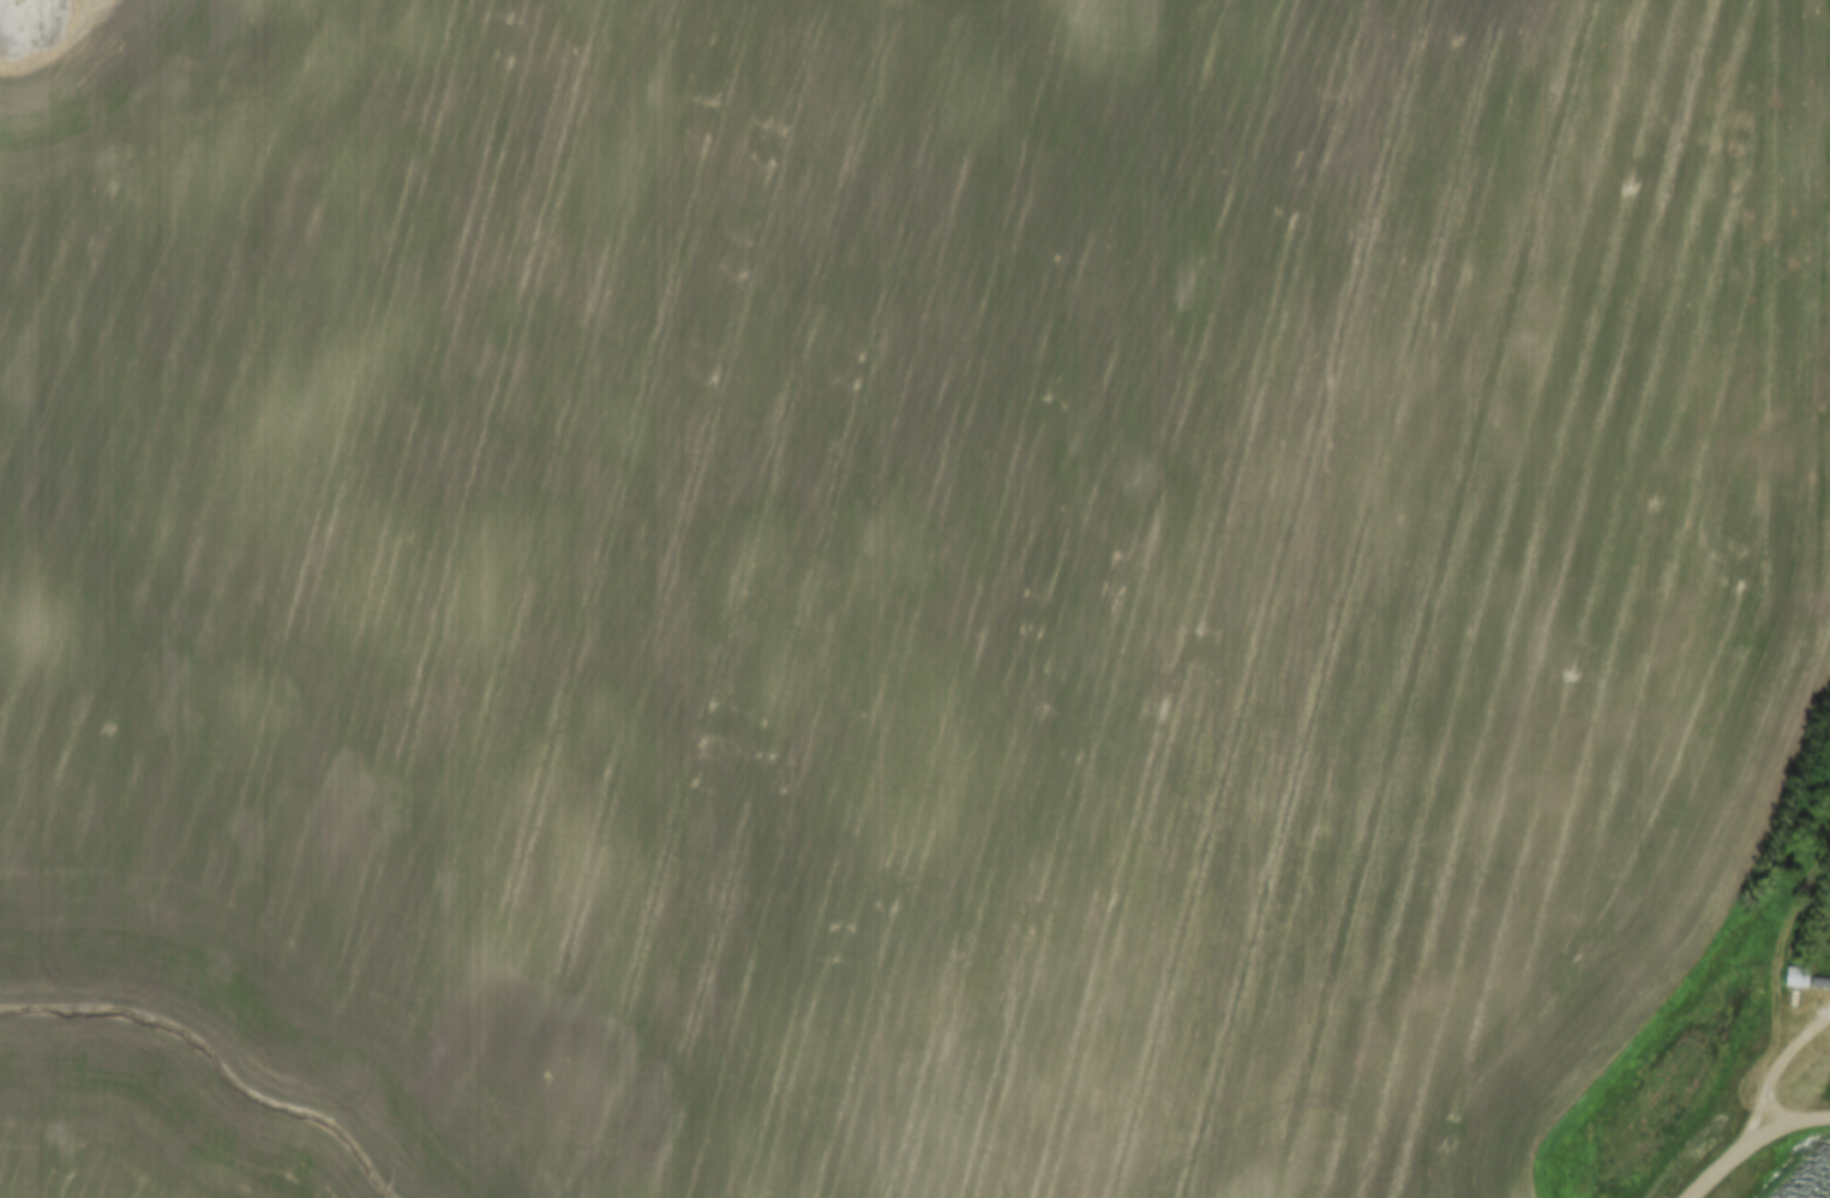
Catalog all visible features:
building: (1798, 978)
road: (1778, 1078)
road: (1762, 1146)

